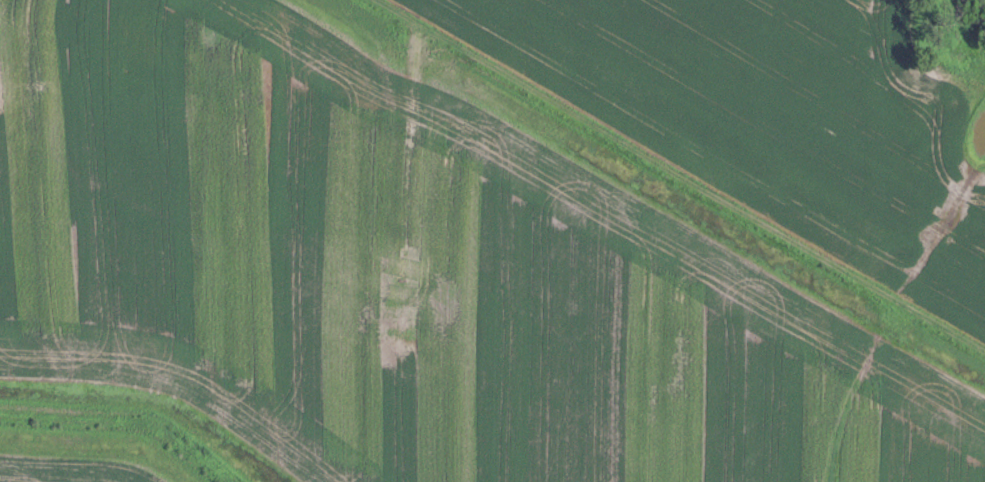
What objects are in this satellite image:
road: (681, 174)

